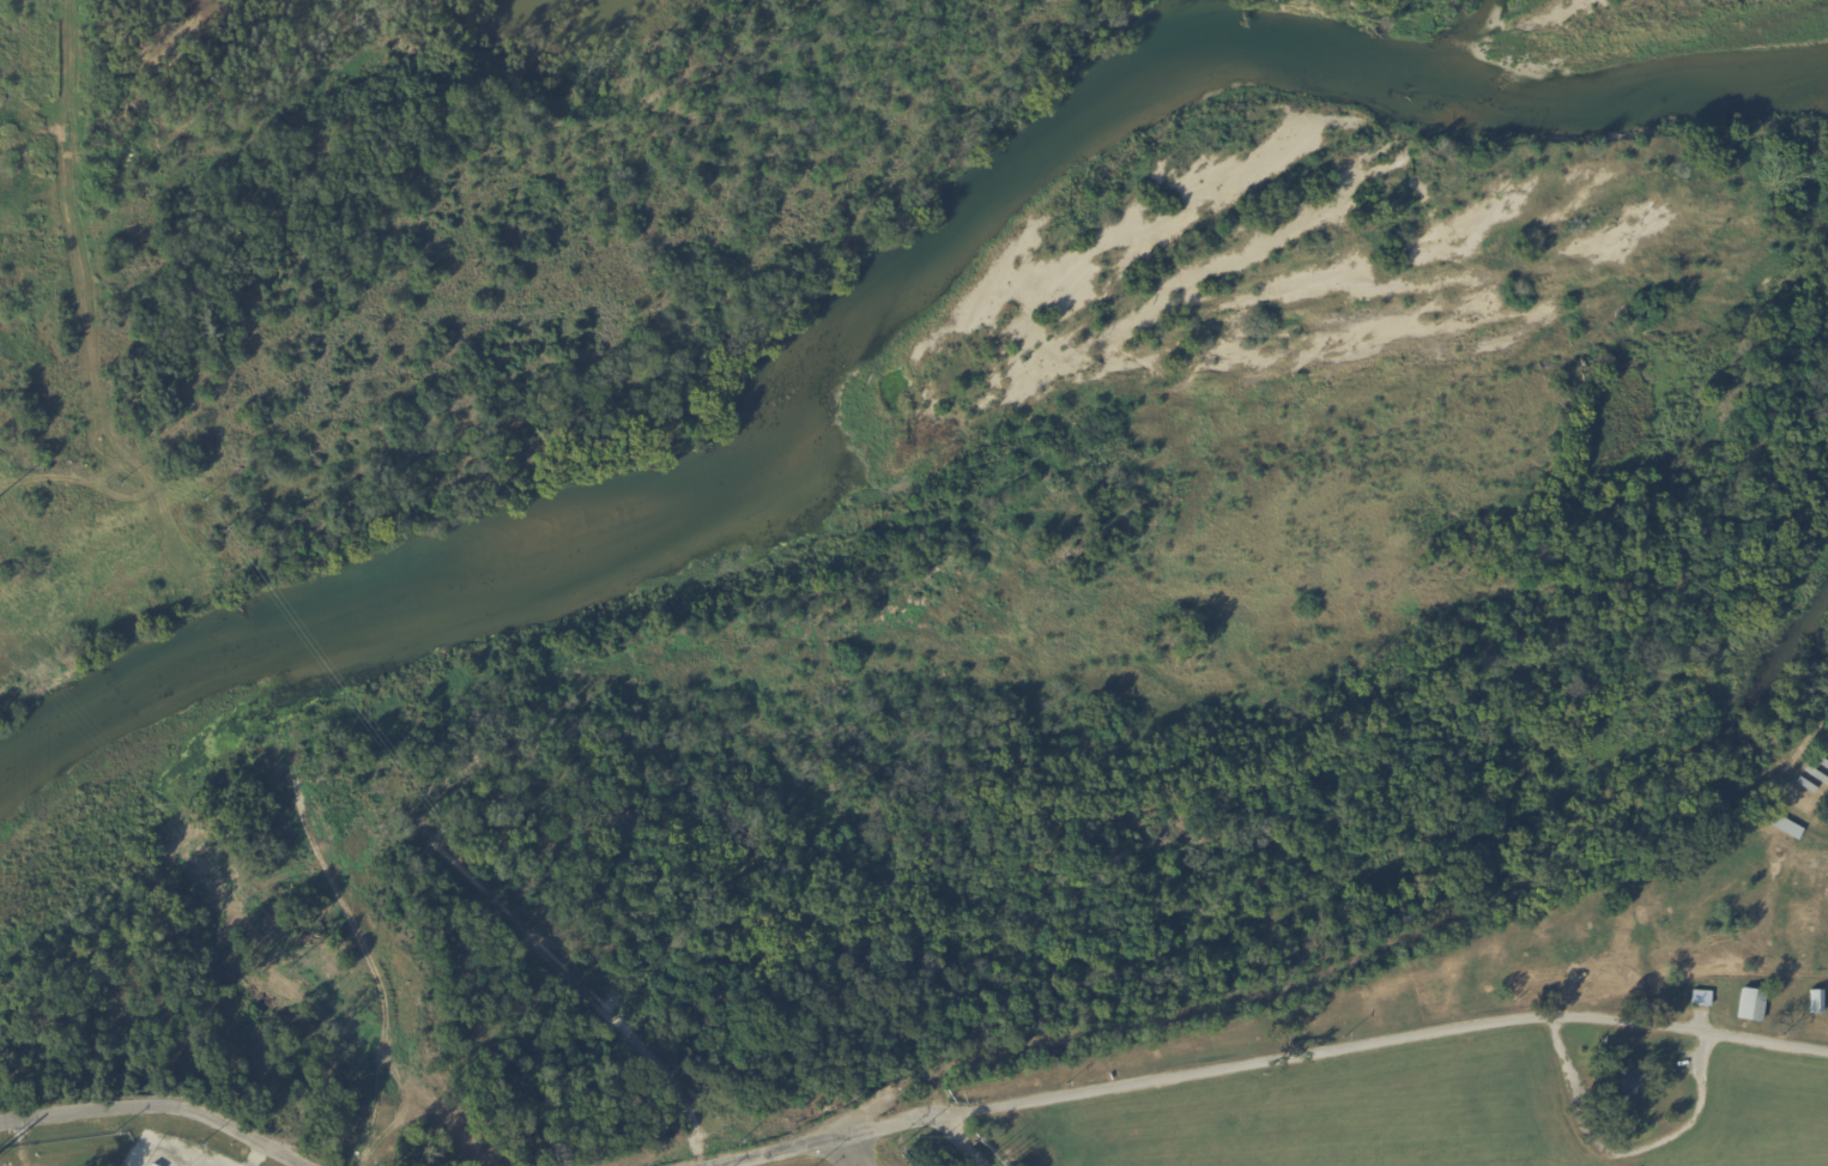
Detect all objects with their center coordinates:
river: (1095, 135)
river: (241, 661)
building: (1827, 737)
building: (1823, 748)
building: (1820, 762)
building: (1815, 778)
building: (1806, 786)
building: (1780, 824)
road: (1417, 940)
building: (1706, 998)
building: (1818, 1003)
building: (1753, 1005)
road: (1424, 1032)
building: (1627, 1083)
road: (155, 1110)
crop: (1426, 1113)
road: (845, 1140)
road: (970, 1141)
road: (1633, 1148)
power plant: (117, 1149)
wastewater plant: (962, 1152)
road: (848, 1154)
building: (155, 1165)

